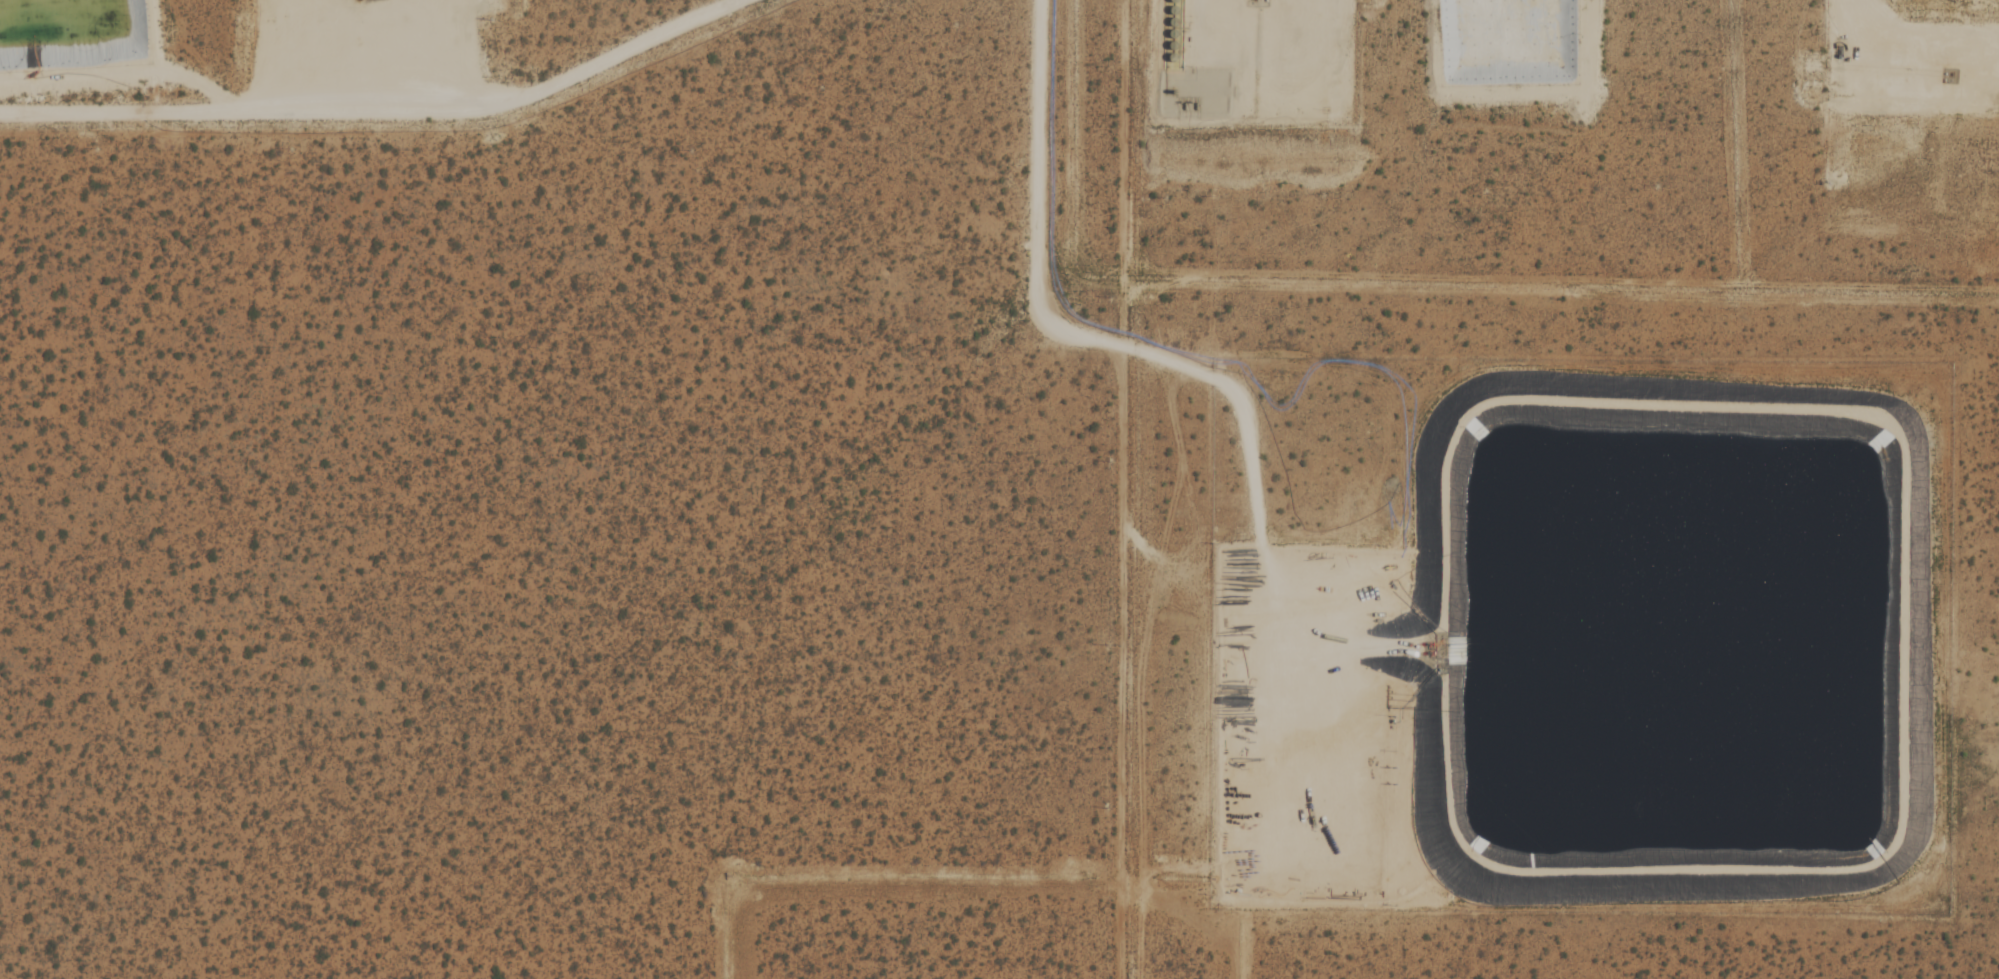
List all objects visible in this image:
road: (1923, 17)
road: (411, 58)
road: (1345, 99)
road: (381, 115)
road: (1211, 382)

